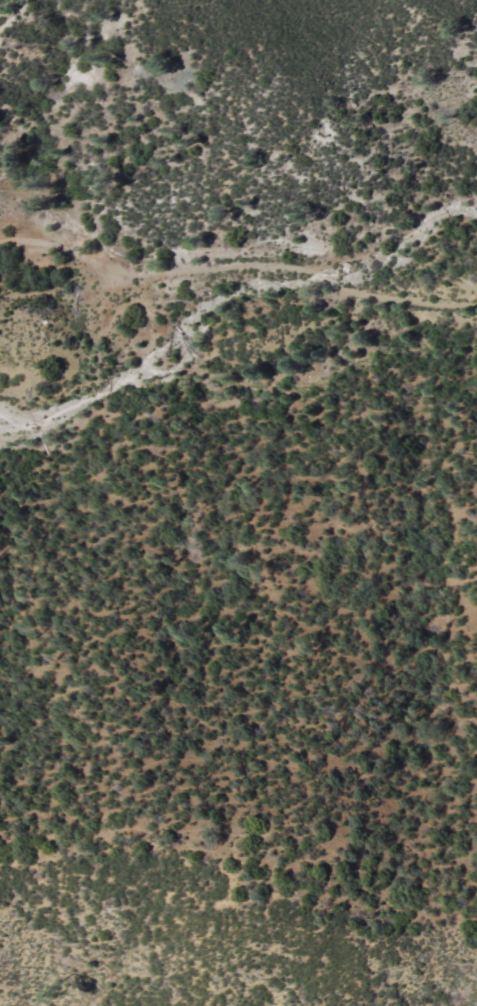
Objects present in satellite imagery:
road: (230, 268)

